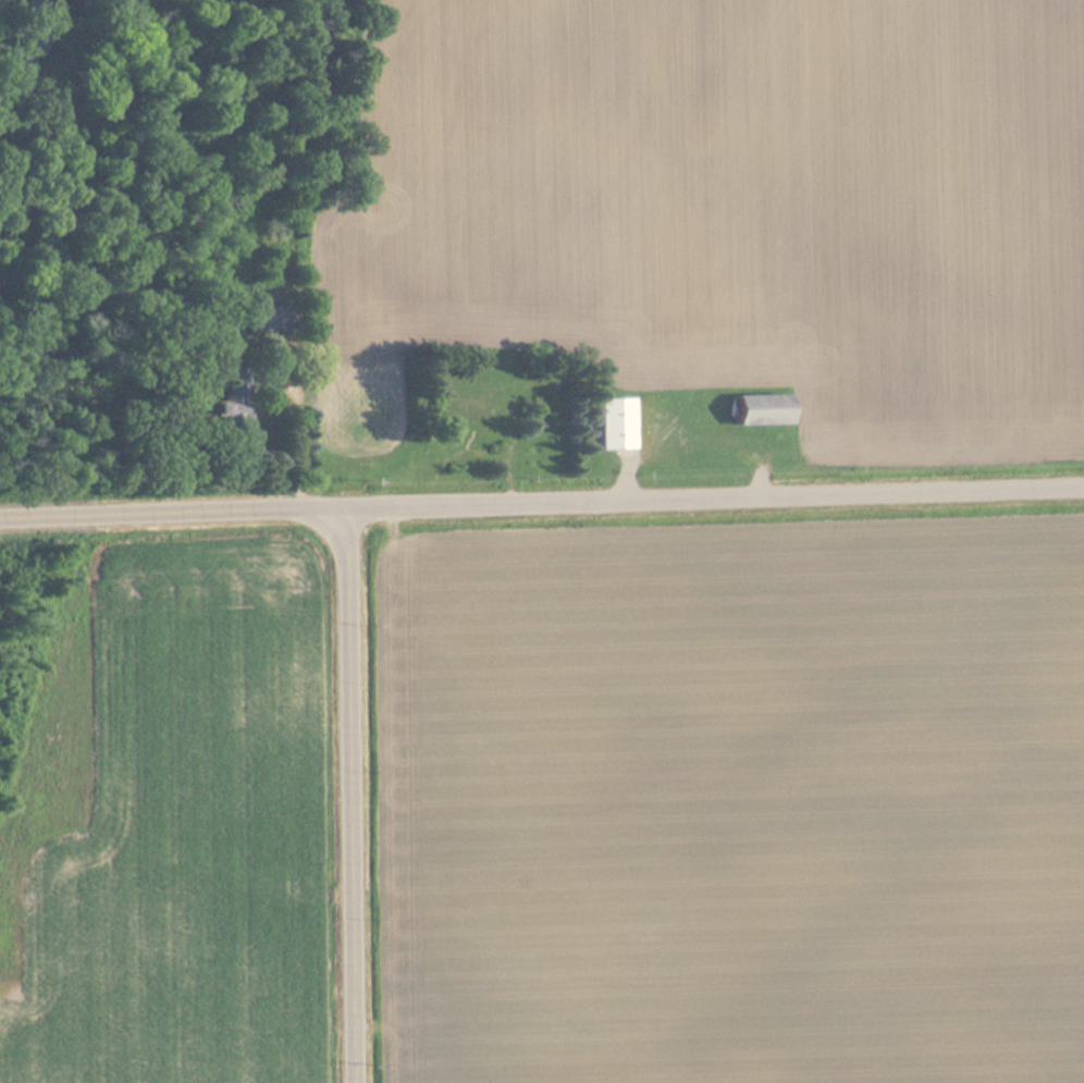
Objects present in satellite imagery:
river: (45, 73)
building: (276, 319)
building: (237, 383)
building: (765, 410)
building: (618, 424)
road: (715, 496)
road: (173, 513)
road: (350, 796)

